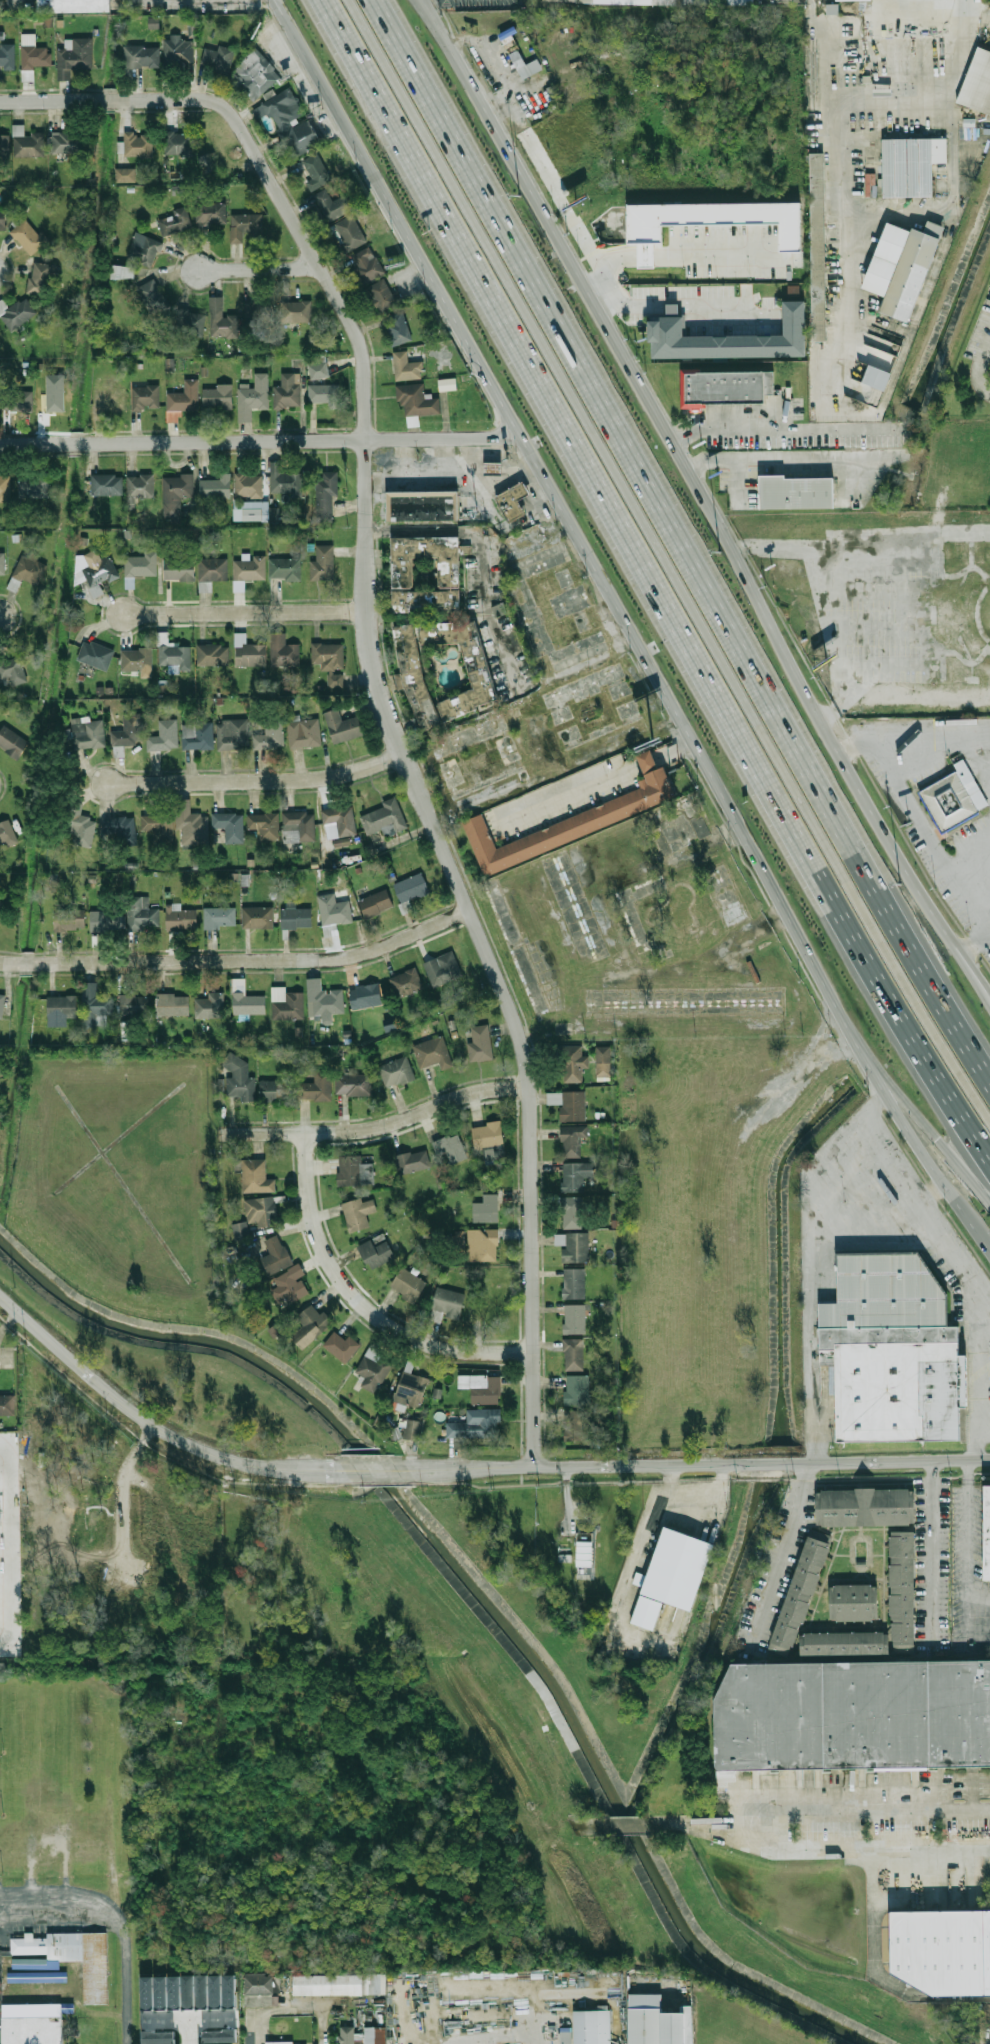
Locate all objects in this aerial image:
building: (717, 1)
road: (819, 1)
parking lot: (480, 3)
building: (75, 5)
road: (818, 16)
road: (878, 28)
road: (444, 46)
building: (178, 51)
building: (7, 56)
building: (145, 56)
building: (74, 57)
building: (218, 59)
building: (35, 60)
building: (525, 65)
building: (256, 74)
building: (978, 82)
road: (108, 99)
road: (49, 100)
road: (896, 102)
building: (289, 122)
building: (64, 142)
building: (28, 143)
building: (138, 144)
building: (179, 144)
building: (4, 145)
building: (207, 163)
building: (912, 166)
building: (316, 171)
building: (125, 175)
building: (332, 205)
building: (211, 214)
road: (572, 216)
building: (714, 218)
building: (3, 219)
road: (291, 219)
building: (176, 221)
building: (244, 225)
building: (349, 233)
building: (28, 236)
road: (753, 240)
building: (819, 247)
building: (143, 249)
building: (646, 254)
road: (721, 254)
road: (646, 255)
building: (367, 264)
road: (608, 264)
building: (905, 266)
road: (258, 269)
building: (123, 271)
building: (40, 278)
building: (152, 295)
building: (383, 295)
road: (747, 302)
road: (686, 305)
building: (296, 311)
building: (17, 313)
building: (259, 317)
building: (222, 320)
building: (190, 324)
building: (398, 328)
building: (728, 339)
road: (978, 365)
building: (406, 367)
building: (318, 369)
building: (876, 378)
building: (447, 384)
building: (728, 387)
building: (287, 392)
building: (110, 394)
building: (325, 394)
building: (253, 396)
building: (146, 397)
building: (218, 397)
building: (50, 399)
building: (182, 400)
building: (416, 400)
building: (18, 401)
road: (783, 428)
road: (304, 441)
road: (77, 443)
road: (33, 444)
road: (789, 458)
building: (495, 470)
building: (285, 481)
building: (107, 484)
building: (5, 485)
building: (248, 485)
building: (35, 486)
building: (141, 486)
building: (217, 486)
building: (176, 492)
building: (797, 492)
building: (326, 494)
road: (704, 502)
building: (514, 503)
building: (424, 508)
building: (251, 511)
building: (274, 514)
road: (676, 540)
road: (480, 552)
building: (984, 556)
road: (666, 560)
road: (856, 560)
building: (2, 563)
building: (322, 563)
building: (141, 564)
building: (214, 569)
building: (249, 569)
building: (285, 569)
building: (31, 570)
building: (180, 570)
building: (97, 571)
building: (405, 574)
road: (650, 580)
building: (429, 603)
road: (245, 612)
parking lot: (891, 612)
road: (626, 623)
road: (833, 629)
building: (172, 652)
building: (284, 652)
building: (96, 654)
building: (213, 654)
building: (251, 654)
building: (137, 659)
building: (330, 662)
building: (13, 669)
building: (482, 669)
building: (417, 679)
road: (901, 692)
building: (343, 727)
road: (913, 729)
building: (88, 733)
building: (127, 733)
building: (304, 733)
building: (233, 734)
building: (165, 735)
building: (270, 735)
building: (198, 736)
building: (12, 742)
road: (675, 751)
building: (648, 763)
road: (648, 763)
road: (259, 781)
road: (572, 795)
building: (950, 803)
building: (341, 819)
building: (385, 819)
building: (191, 824)
building: (264, 825)
building: (570, 825)
building: (230, 826)
building: (159, 827)
building: (299, 827)
building: (122, 829)
building: (83, 831)
building: (7, 833)
road: (932, 838)
building: (410, 891)
building: (375, 903)
building: (2, 910)
building: (334, 911)
building: (142, 914)
building: (180, 918)
building: (220, 918)
building: (257, 918)
building: (70, 919)
building: (296, 919)
building: (106, 920)
road: (989, 933)
road: (973, 943)
road: (484, 948)
road: (254, 959)
road: (9, 965)
road: (25, 966)
building: (442, 967)
building: (406, 981)
building: (365, 996)
building: (246, 1000)
building: (324, 1001)
building: (135, 1004)
building: (172, 1004)
building: (2, 1006)
building: (62, 1006)
building: (93, 1006)
building: (209, 1006)
building: (289, 1006)
road: (15, 1026)
building: (479, 1044)
building: (433, 1052)
building: (603, 1061)
building: (573, 1064)
building: (396, 1070)
building: (239, 1078)
building: (354, 1084)
building: (317, 1087)
building: (275, 1090)
building: (570, 1105)
road: (377, 1127)
building: (486, 1135)
road: (935, 1135)
building: (572, 1140)
building: (451, 1147)
building: (411, 1161)
building: (355, 1173)
building: (253, 1175)
building: (575, 1176)
road: (824, 1206)
building: (487, 1209)
building: (266, 1212)
building: (571, 1212)
building: (360, 1214)
building: (239, 1230)
building: (482, 1245)
building: (573, 1245)
building: (375, 1253)
building: (276, 1255)
building: (573, 1283)
building: (407, 1284)
building: (290, 1286)
building: (448, 1301)
road: (360, 1306)
building: (573, 1318)
road: (9, 1321)
building: (310, 1327)
building: (341, 1346)
building: (573, 1354)
building: (890, 1354)
building: (373, 1369)
building: (481, 1387)
building: (410, 1388)
building: (576, 1389)
building: (7, 1404)
road: (148, 1420)
building: (475, 1424)
building: (579, 1424)
building: (412, 1429)
road: (974, 1442)
road: (889, 1462)
road: (127, 1464)
road: (771, 1464)
road: (369, 1469)
road: (580, 1469)
road: (373, 1484)
road: (695, 1492)
road: (566, 1499)
building: (864, 1506)
building: (985, 1532)
road: (784, 1544)
building: (582, 1548)
road: (931, 1551)
road: (966, 1559)
building: (676, 1575)
building: (901, 1586)
river: (476, 1591)
building: (796, 1595)
building: (852, 1603)
building: (0, 1615)
building: (843, 1644)
building: (854, 1714)
road: (846, 1808)
road: (591, 1824)
road: (629, 1824)
road: (677, 1826)
road: (847, 1851)
road: (113, 1921)
building: (989, 1937)
building: (944, 1950)
building: (68, 1958)
building: (36, 1976)
building: (339, 1985)
building: (259, 1986)
road: (501, 1988)
road: (282, 2005)
road: (188, 2017)
building: (664, 2021)
building: (31, 2024)
road: (558, 2024)
building: (596, 2026)
road: (191, 2030)
building: (347, 2035)
building: (564, 2035)
building: (374, 2036)
building: (280, 2043)

